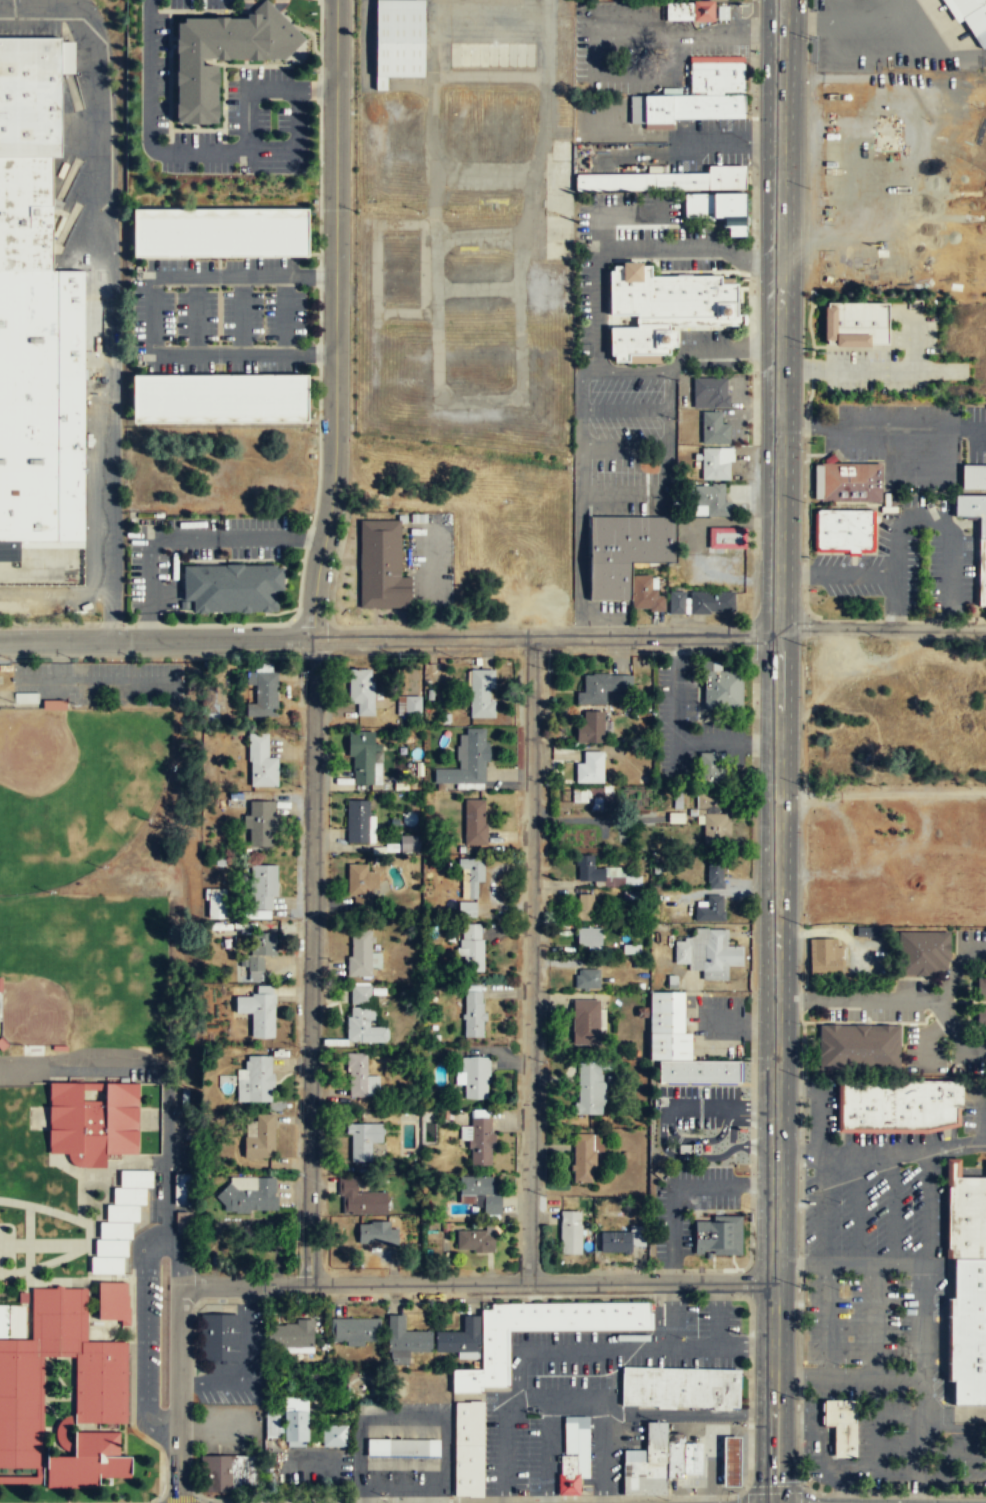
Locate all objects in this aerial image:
road: (34, 3)
parking lot: (201, 4)
building: (963, 7)
building: (688, 11)
building: (721, 12)
road: (848, 19)
parking lot: (30, 25)
building: (397, 37)
street lamp: (808, 41)
building: (491, 53)
building: (224, 54)
building: (715, 75)
parking lot: (270, 88)
building: (31, 95)
building: (683, 106)
road: (297, 128)
road: (201, 153)
building: (666, 179)
building: (717, 208)
building: (26, 212)
building: (222, 231)
road: (750, 257)
road: (243, 274)
street lamp: (753, 280)
road: (598, 285)
building: (664, 306)
road: (150, 313)
road: (197, 313)
road: (241, 313)
road: (284, 313)
road: (110, 316)
road: (335, 320)
building: (857, 322)
road: (914, 343)
street lamp: (805, 349)
road: (706, 350)
road: (242, 352)
road: (754, 353)
road: (677, 362)
road: (801, 362)
road: (874, 368)
street lamp: (756, 371)
building: (709, 392)
building: (221, 398)
building: (42, 405)
road: (643, 406)
road: (884, 424)
road: (669, 425)
road: (960, 425)
building: (714, 428)
street lamp: (803, 449)
building: (712, 465)
road: (666, 469)
building: (973, 476)
building: (817, 480)
building: (850, 480)
road: (580, 496)
building: (711, 499)
road: (925, 513)
building: (843, 527)
building: (725, 537)
road: (274, 539)
building: (625, 550)
building: (982, 560)
building: (380, 564)
road: (836, 573)
building: (230, 585)
building: (645, 593)
road: (55, 597)
parking lot: (47, 599)
building: (711, 602)
building: (677, 607)
road: (881, 627)
road: (547, 636)
road: (157, 641)
road: (778, 641)
road: (40, 681)
road: (97, 682)
parking lot: (101, 682)
building: (720, 686)
building: (601, 687)
building: (361, 691)
building: (481, 693)
building: (264, 696)
building: (54, 703)
building: (411, 704)
building: (590, 727)
road: (676, 738)
road: (676, 756)
building: (363, 758)
building: (466, 760)
building: (261, 763)
building: (710, 767)
building: (589, 768)
park: (76, 788)
road: (881, 794)
building: (592, 797)
building: (712, 818)
building: (360, 821)
building: (475, 822)
building: (260, 823)
building: (409, 842)
building: (588, 871)
building: (714, 875)
building: (471, 882)
building: (361, 886)
building: (264, 887)
building: (847, 896)
building: (216, 904)
building: (466, 908)
building: (585, 908)
building: (710, 909)
road: (830, 930)
building: (868, 931)
building: (587, 937)
building: (471, 949)
building: (705, 950)
building: (259, 952)
building: (361, 954)
building: (924, 955)
building: (823, 956)
road: (530, 959)
road: (309, 961)
road: (957, 968)
park: (88, 975)
building: (586, 978)
building: (981, 988)
building: (360, 993)
road: (860, 998)
building: (258, 1011)
building: (472, 1012)
building: (981, 1018)
building: (586, 1022)
building: (364, 1025)
road: (955, 1034)
building: (859, 1045)
parking lot: (924, 1048)
building: (697, 1070)
road: (163, 1073)
building: (359, 1077)
building: (475, 1077)
road: (819, 1077)
building: (254, 1080)
road: (797, 1085)
building: (589, 1087)
building: (899, 1102)
road: (981, 1115)
building: (92, 1121)
street lamp: (752, 1126)
road: (872, 1128)
road: (945, 1131)
building: (482, 1135)
building: (259, 1136)
building: (362, 1140)
road: (957, 1145)
road: (944, 1147)
building: (688, 1148)
building: (585, 1158)
road: (948, 1160)
road: (951, 1170)
road: (821, 1173)
building: (182, 1188)
building: (479, 1193)
building: (246, 1195)
building: (360, 1200)
road: (858, 1207)
road: (893, 1207)
street lamp: (753, 1208)
building: (970, 1217)
building: (184, 1221)
road: (929, 1221)
building: (120, 1222)
building: (377, 1233)
building: (570, 1233)
road: (88, 1235)
building: (718, 1235)
road: (29, 1237)
building: (475, 1239)
building: (620, 1239)
road: (14, 1243)
road: (58, 1244)
road: (800, 1261)
road: (851, 1261)
road: (899, 1263)
road: (370, 1283)
road: (950, 1289)
road: (710, 1296)
building: (112, 1301)
road: (146, 1307)
parking lot: (875, 1309)
road: (828, 1318)
road: (874, 1319)
building: (11, 1321)
road: (799, 1326)
building: (355, 1330)
building: (969, 1331)
road: (672, 1336)
building: (293, 1337)
building: (219, 1339)
building: (459, 1339)
building: (404, 1341)
road: (718, 1341)
building: (493, 1349)
road: (517, 1354)
road: (848, 1376)
building: (679, 1386)
building: (99, 1389)
road: (773, 1392)
road: (817, 1399)
road: (683, 1412)
road: (955, 1415)
building: (299, 1418)
building: (468, 1422)
building: (272, 1424)
road: (795, 1424)
building: (841, 1425)
road: (599, 1426)
road: (742, 1430)
road: (550, 1434)
building: (334, 1436)
road: (878, 1436)
building: (655, 1442)
road: (921, 1445)
building: (403, 1449)
road: (827, 1449)
building: (573, 1454)
building: (674, 1454)
building: (634, 1455)
building: (691, 1457)
building: (730, 1460)
building: (87, 1461)
building: (467, 1469)
building: (228, 1473)
building: (643, 1477)
road: (710, 1481)
road: (951, 1481)
road: (838, 1485)
road: (773, 1486)
road: (804, 1494)
road: (742, 1496)

